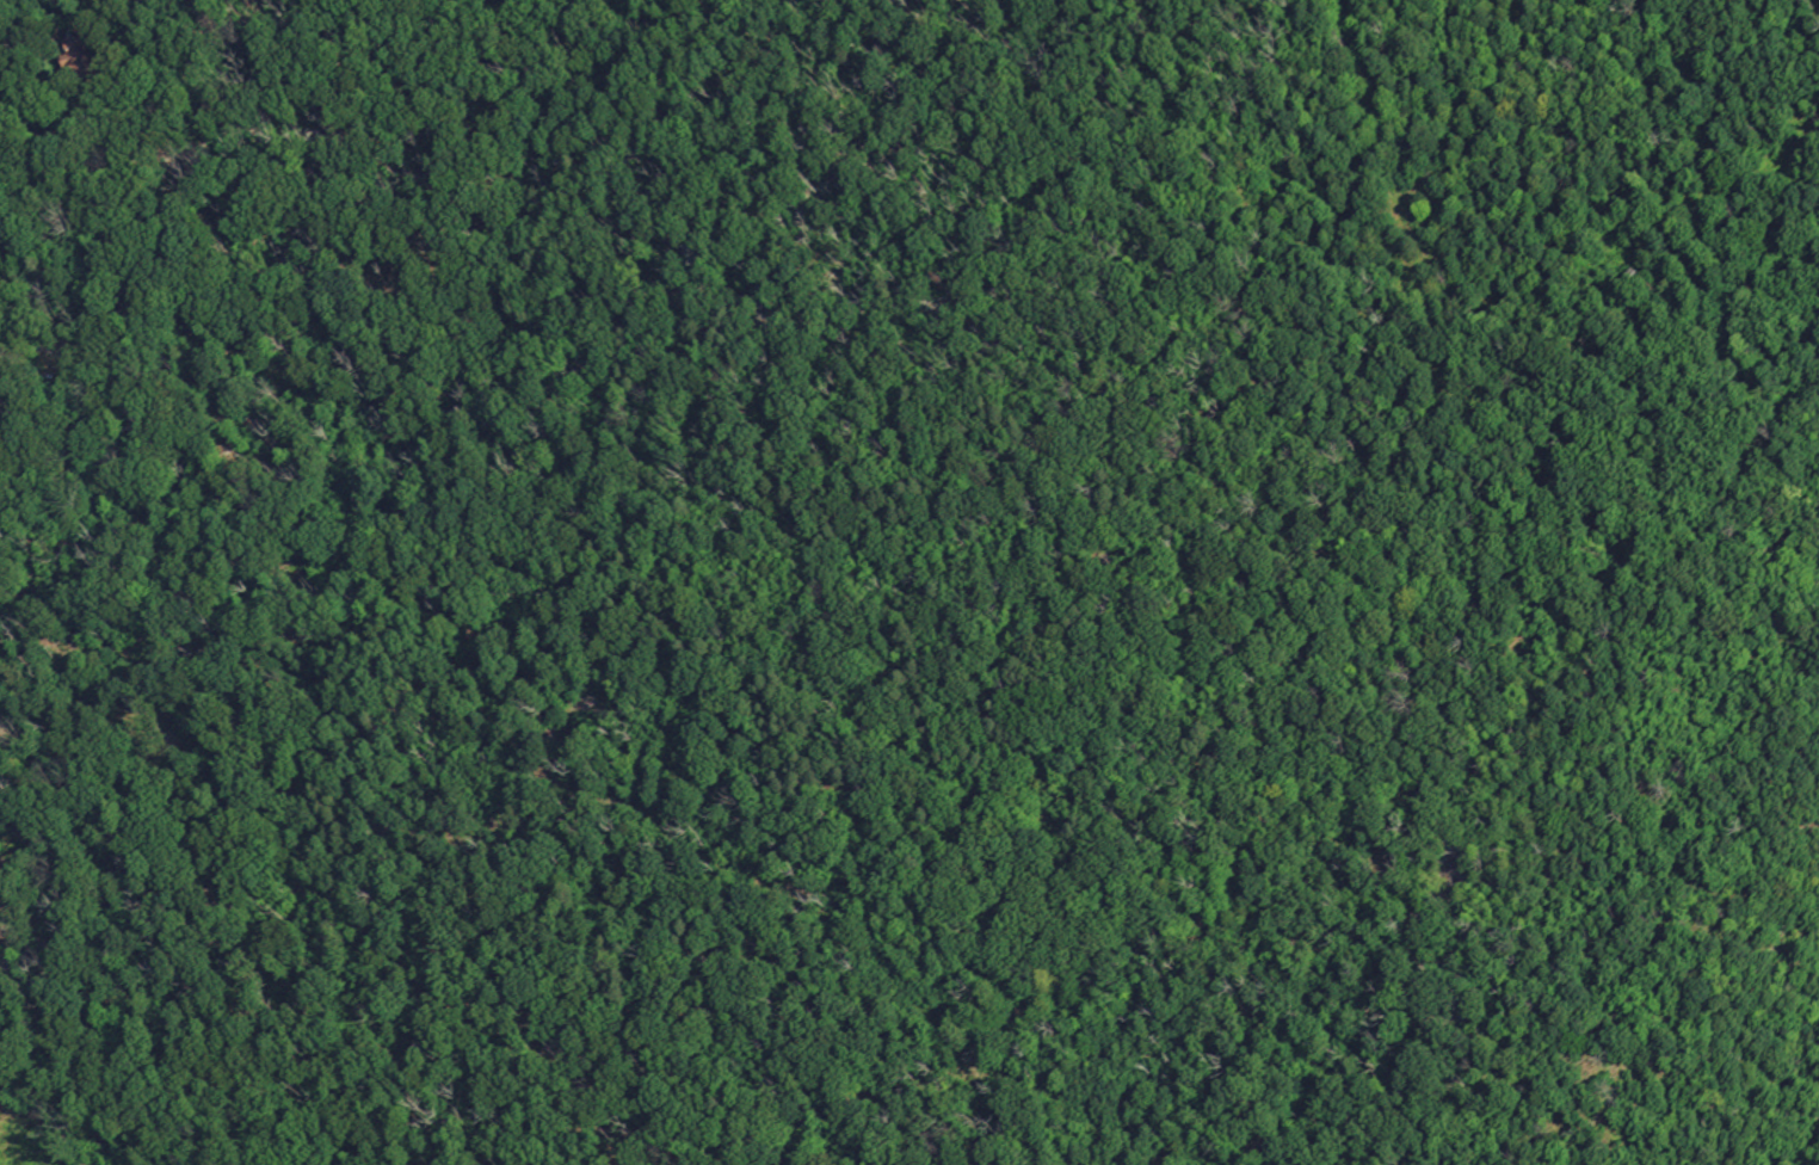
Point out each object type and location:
building: (78, 63)
road: (31, 103)
road: (36, 155)
road: (38, 355)
road: (1777, 695)

